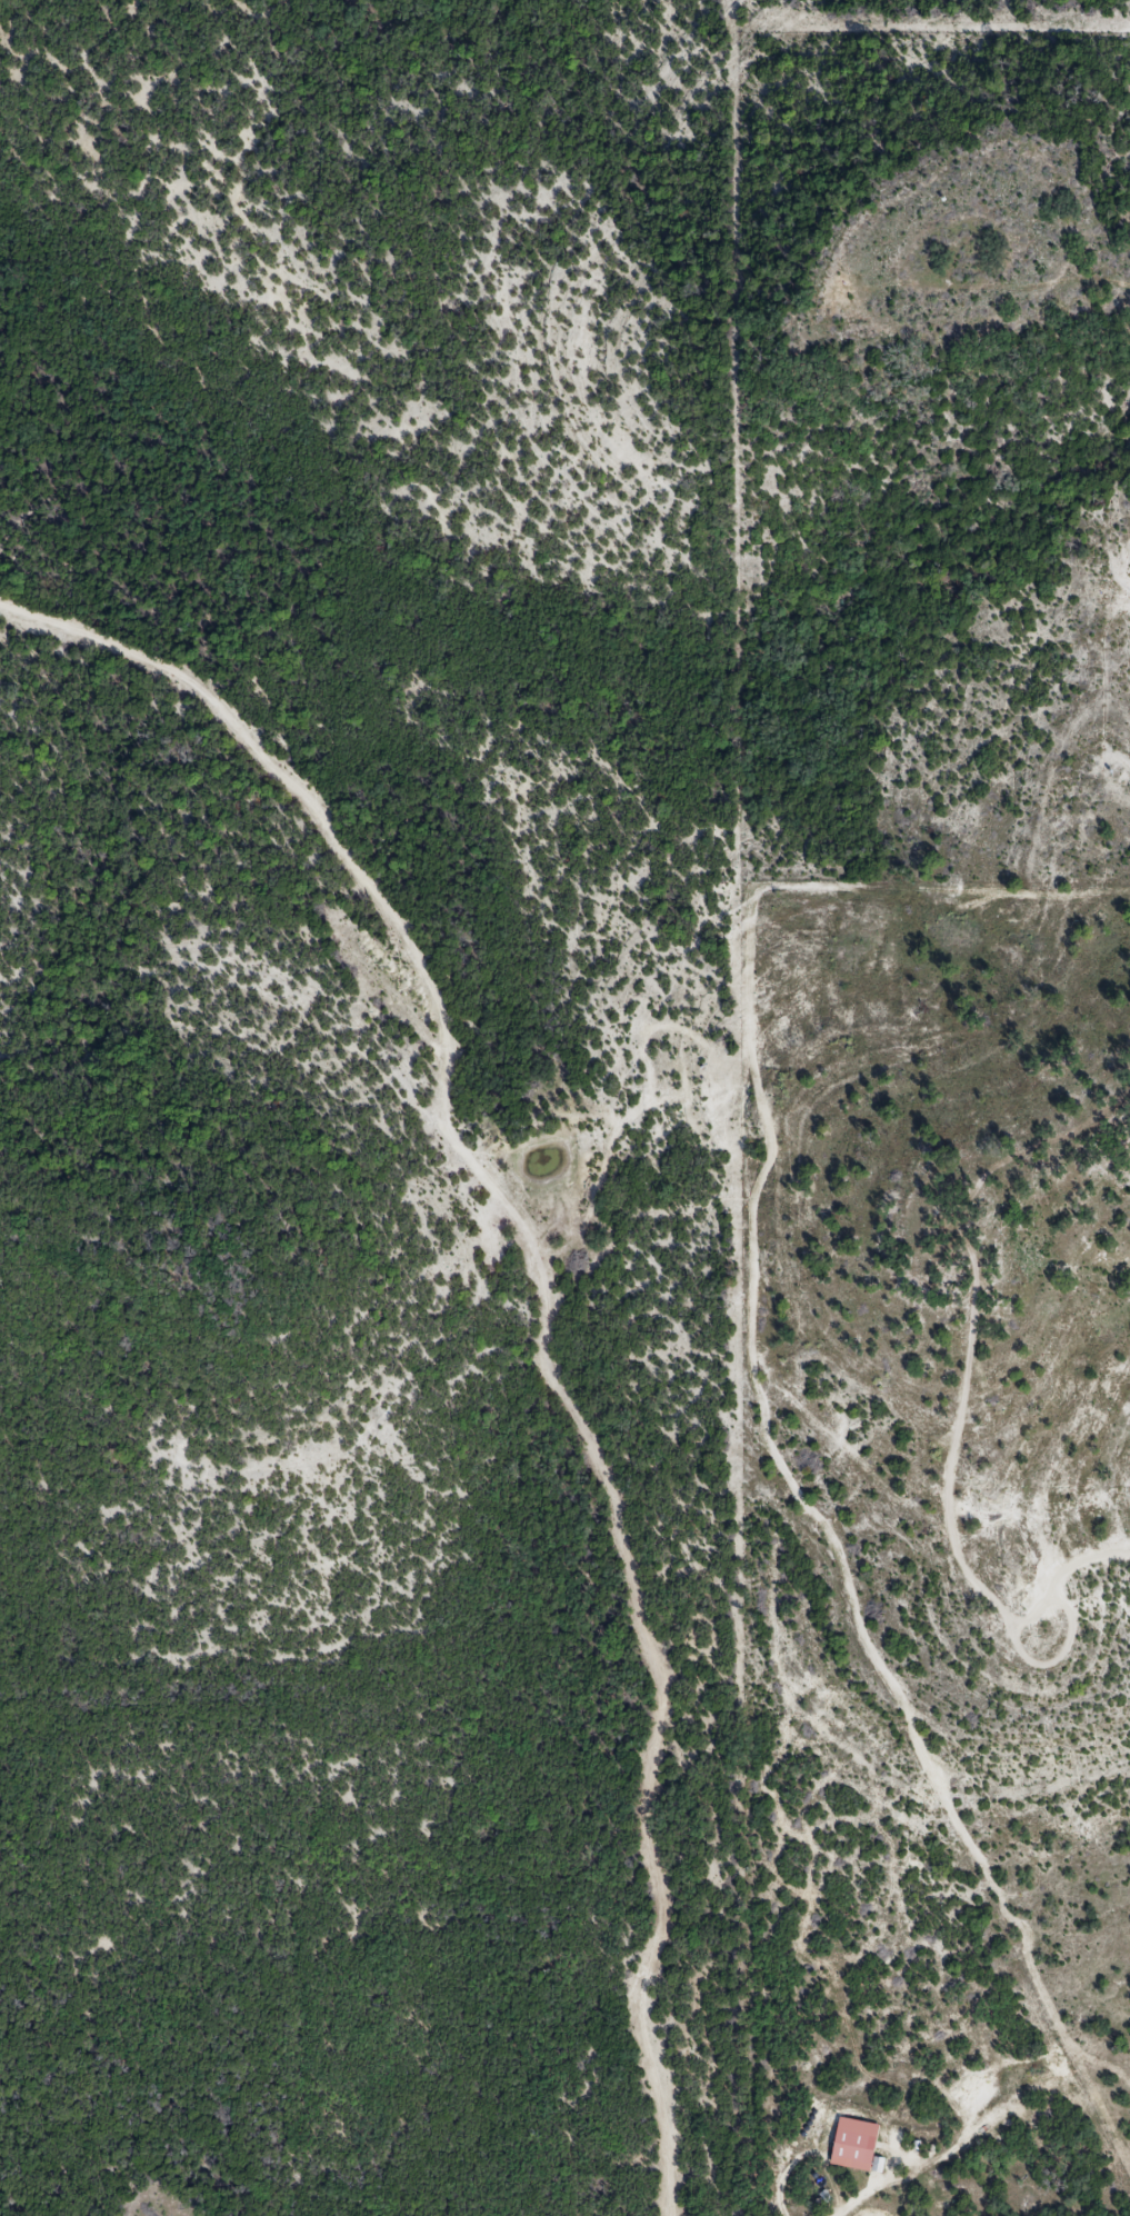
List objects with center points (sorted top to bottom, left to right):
building: (854, 2144)
road: (906, 2173)
building: (871, 2214)

